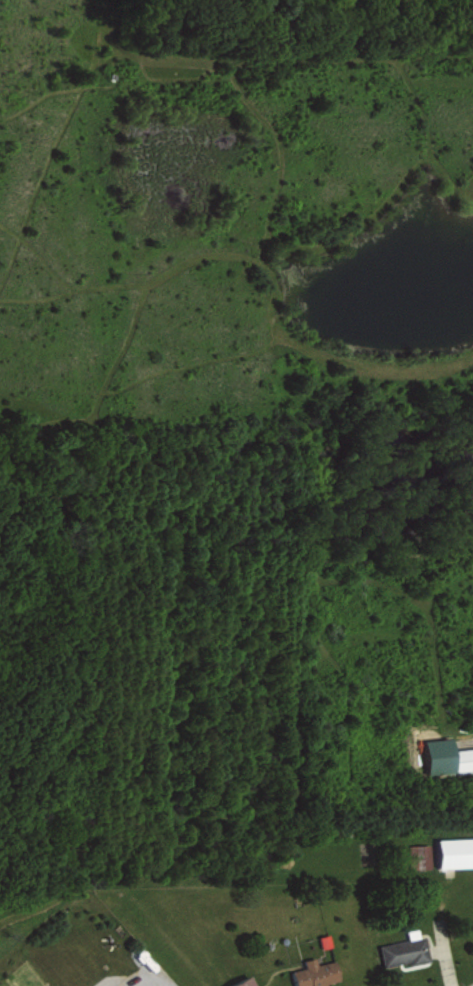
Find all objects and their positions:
building: (459, 759)
building: (451, 852)
building: (416, 856)
building: (319, 940)
building: (398, 952)
building: (309, 973)
building: (235, 982)

